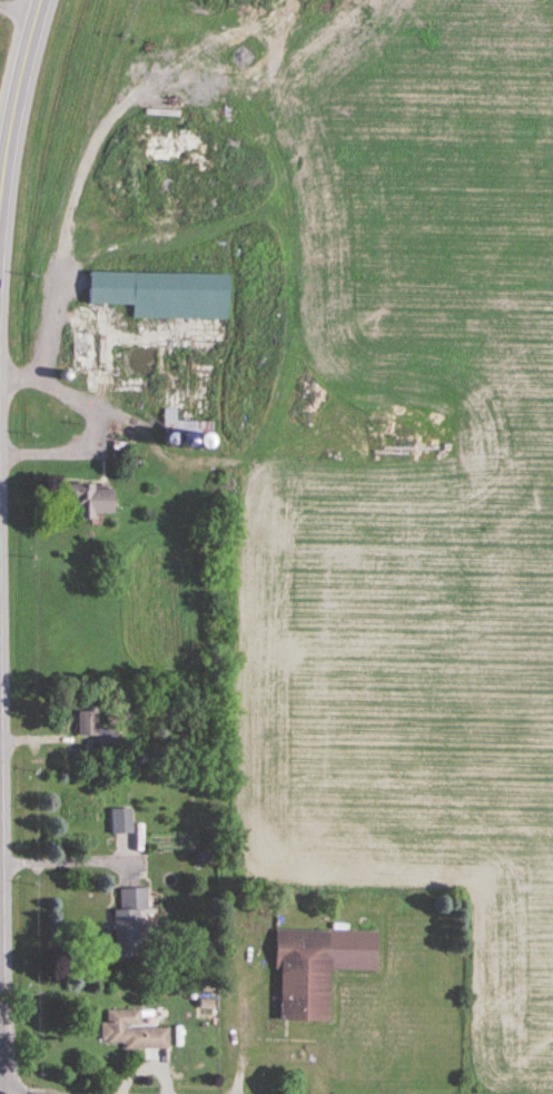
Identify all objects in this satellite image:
road: (20, 10)
road: (13, 126)
building: (168, 296)
building: (88, 362)
building: (168, 417)
road: (95, 422)
building: (86, 501)
building: (87, 721)
road: (67, 855)
building: (130, 924)
building: (317, 968)
building: (132, 1032)
road: (276, 1087)
road: (217, 1091)

